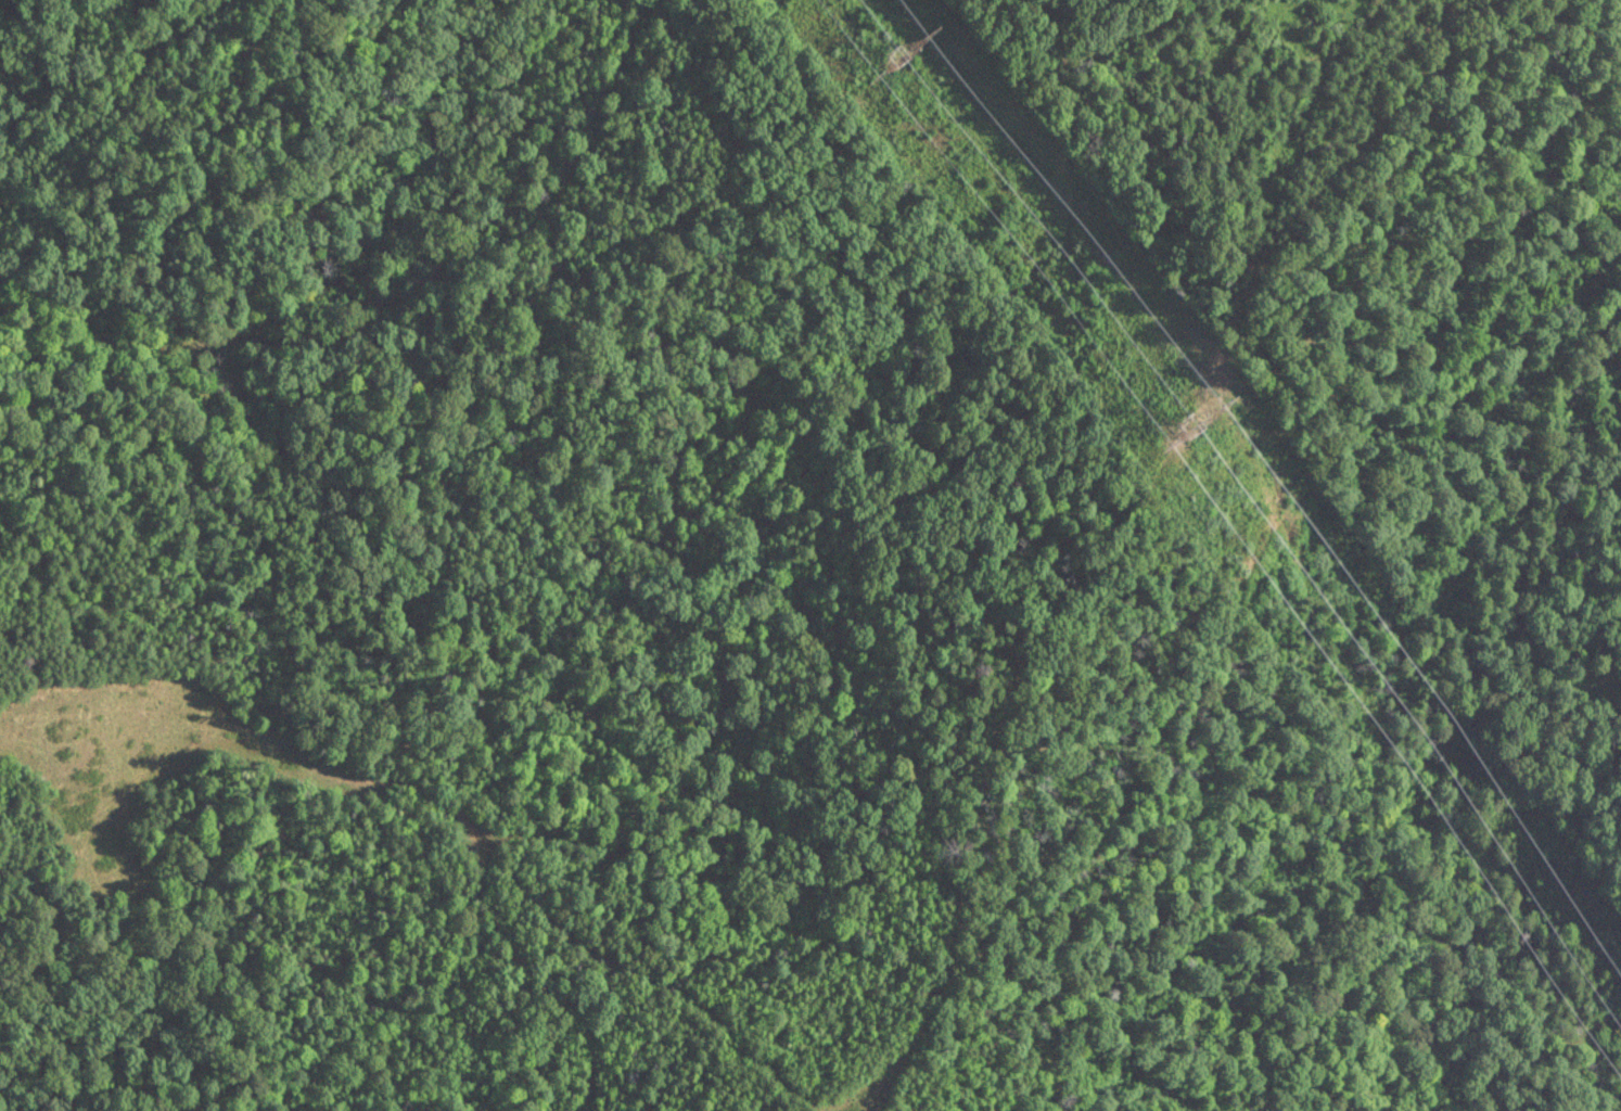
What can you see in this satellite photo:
power tower: (897, 58)
power tower: (1189, 426)

